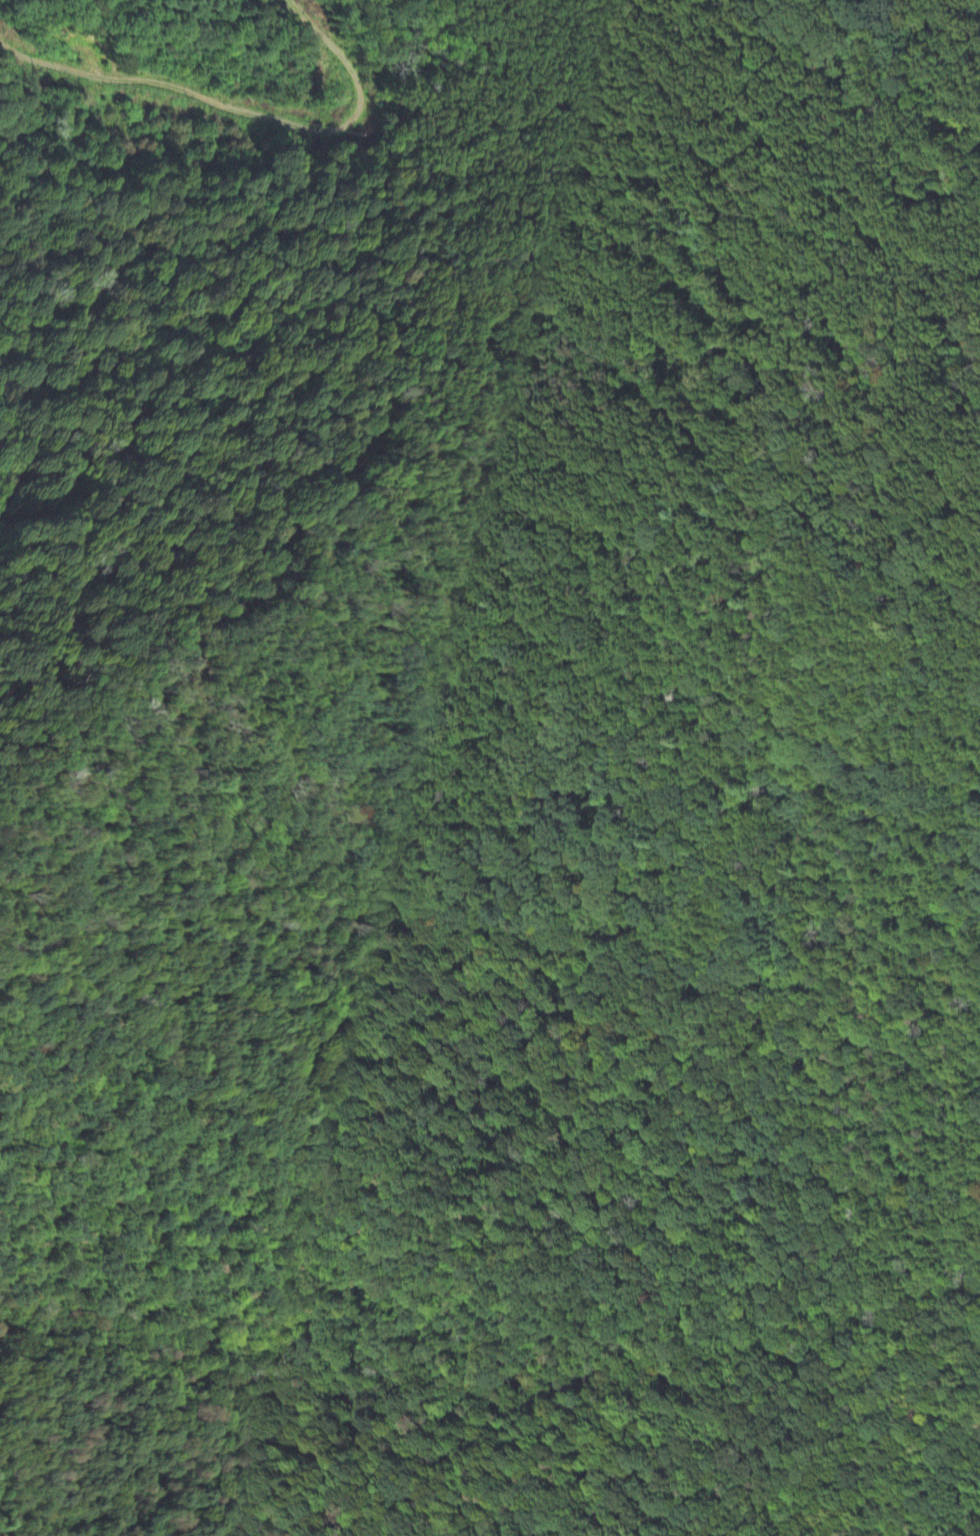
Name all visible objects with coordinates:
road: (258, 118)

